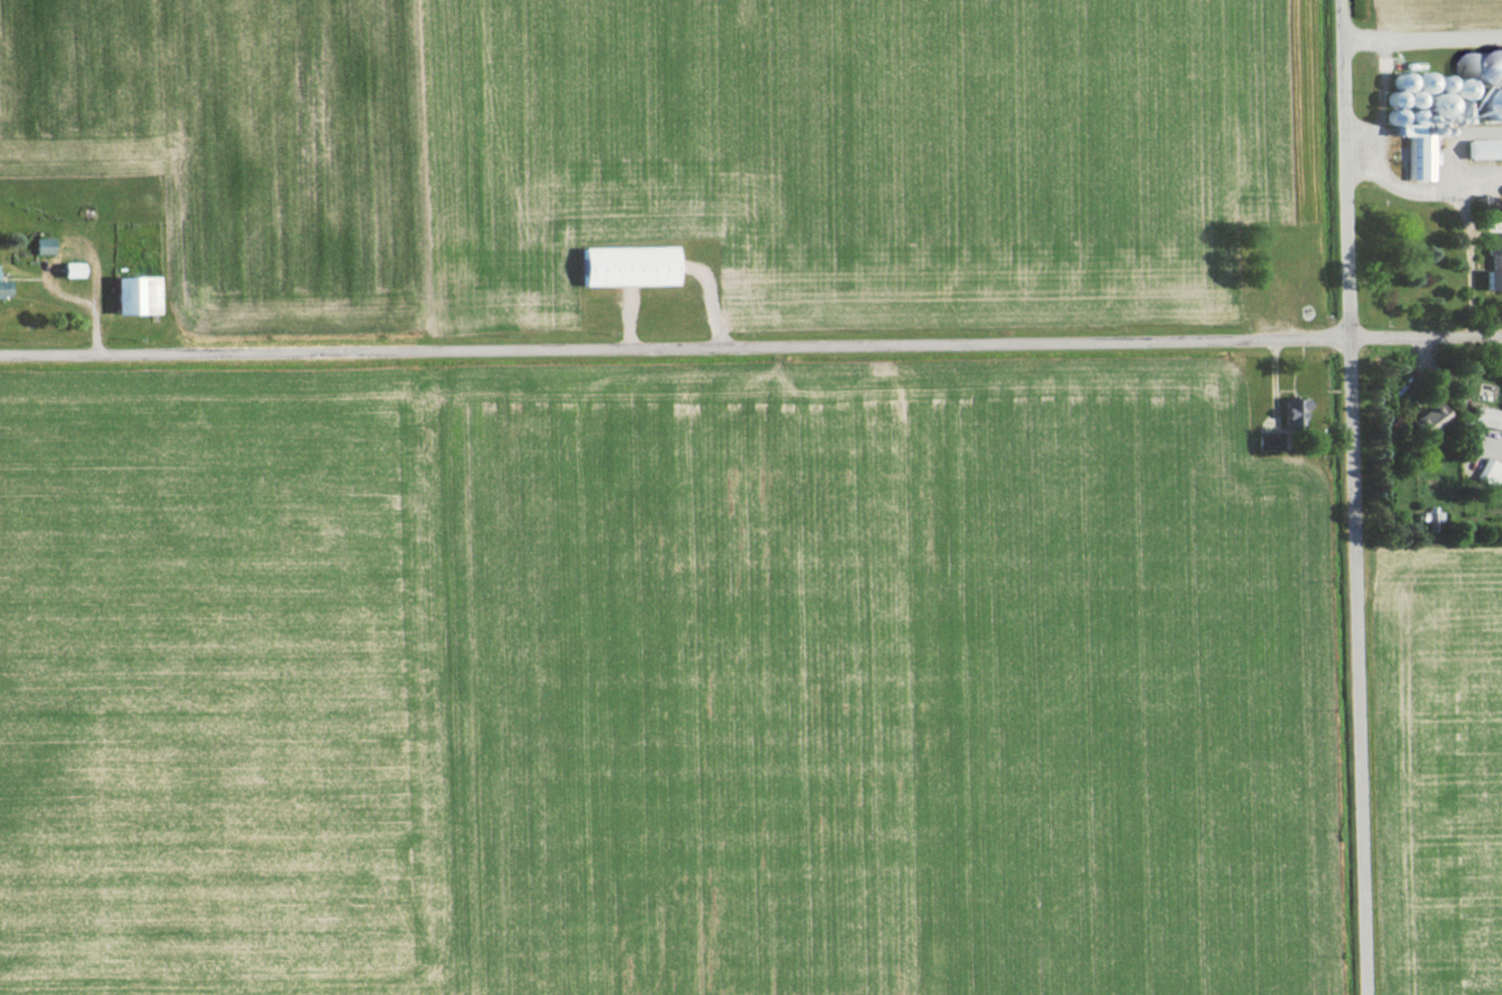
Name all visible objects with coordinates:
crop: (1428, 13)
crop: (224, 141)
building: (1480, 148)
crop: (841, 153)
building: (41, 246)
building: (627, 266)
building: (1494, 267)
building: (69, 269)
building: (1, 289)
building: (134, 294)
road: (751, 349)
building: (1286, 411)
building: (1486, 418)
building: (1266, 441)
building: (1488, 471)
road: (1352, 497)
crop: (659, 691)
crop: (1445, 770)

